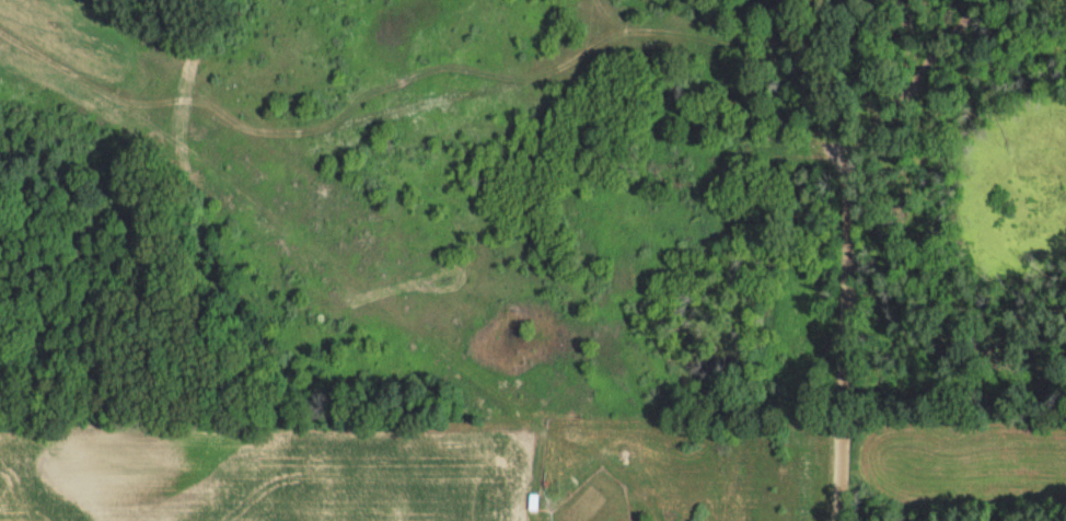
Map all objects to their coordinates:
road: (839, 265)

